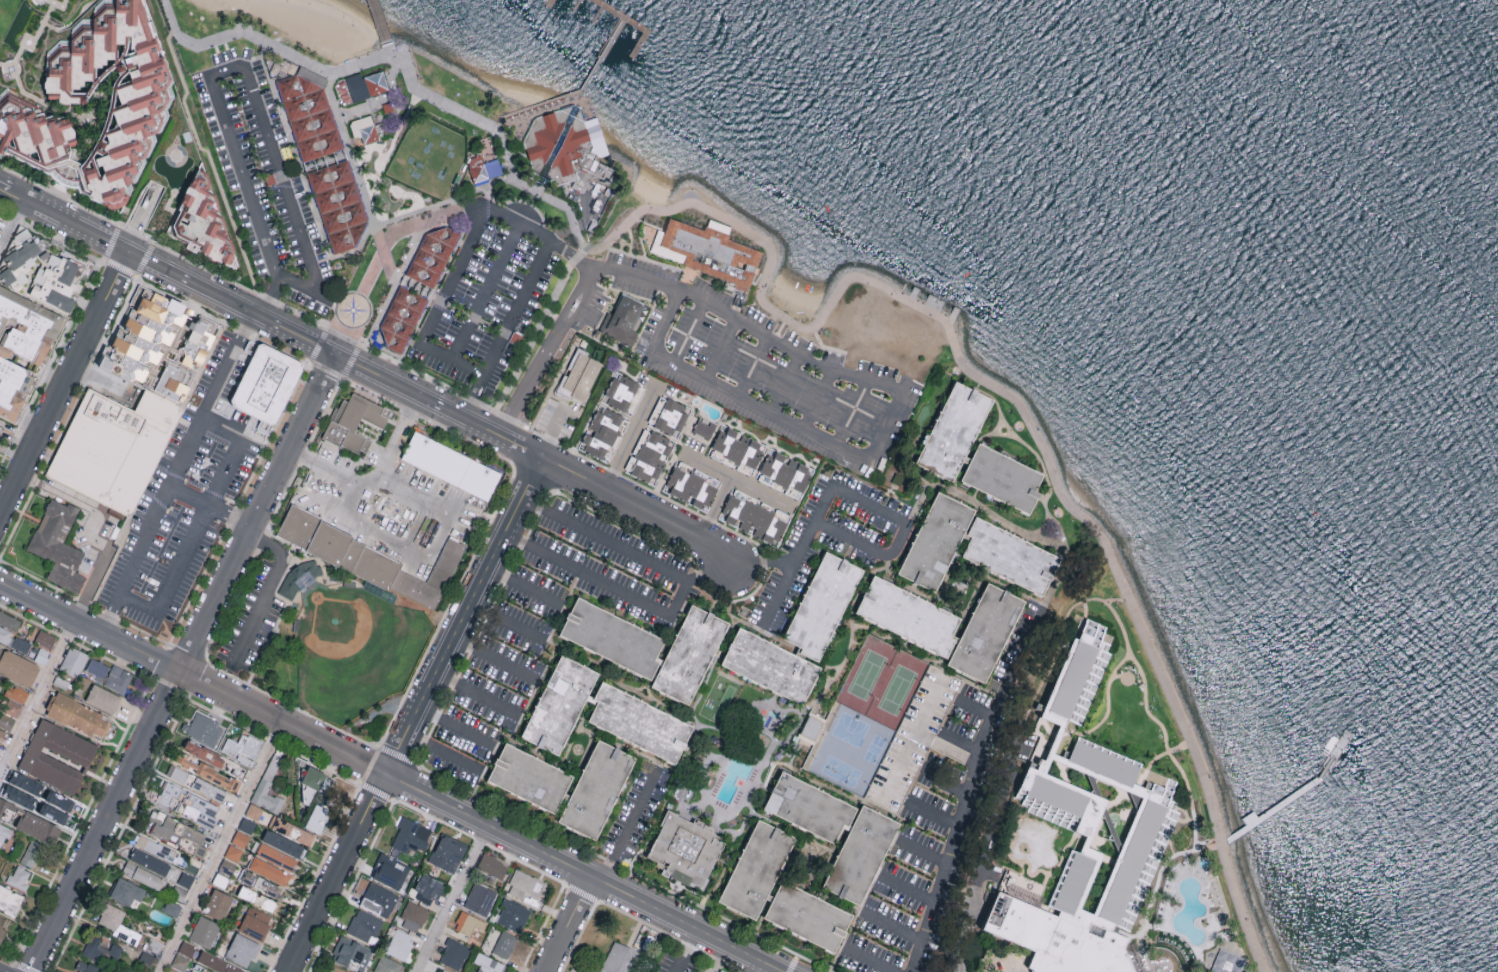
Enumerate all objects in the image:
pier: (575, 5)
pier: (550, 6)
park: (7, 15)
road: (379, 23)
pier: (379, 24)
pier: (638, 28)
park: (219, 31)
road: (265, 43)
road: (388, 51)
road: (239, 68)
road: (589, 77)
building: (366, 84)
road: (431, 99)
building: (138, 107)
road: (534, 109)
building: (308, 114)
building: (365, 128)
building: (565, 148)
building: (325, 159)
building: (430, 159)
building: (488, 170)
road: (533, 193)
road: (523, 202)
building: (339, 206)
road: (369, 207)
road: (142, 224)
building: (203, 224)
road: (12, 227)
building: (705, 252)
building: (432, 257)
road: (387, 258)
building: (19, 259)
road: (378, 259)
building: (55, 279)
road: (277, 280)
road: (662, 284)
parking lot: (489, 296)
road: (517, 306)
building: (401, 319)
building: (622, 320)
road: (269, 324)
road: (427, 328)
road: (374, 331)
road: (688, 333)
building: (143, 336)
road: (534, 340)
building: (197, 344)
building: (22, 345)
road: (720, 349)
road: (752, 365)
road: (468, 368)
building: (580, 375)
road: (63, 382)
road: (785, 382)
building: (266, 384)
building: (621, 392)
road: (818, 399)
road: (1023, 405)
road: (765, 408)
road: (853, 412)
building: (672, 417)
building: (353, 422)
building: (0, 426)
building: (264, 426)
building: (704, 428)
road: (552, 431)
building: (953, 432)
building: (602, 433)
road: (628, 439)
building: (739, 447)
building: (114, 448)
building: (650, 456)
building: (451, 465)
road: (175, 473)
building: (787, 473)
building: (1000, 479)
road: (734, 480)
road: (358, 484)
building: (691, 487)
parking lot: (184, 499)
road: (858, 499)
road: (78, 503)
road: (1, 505)
road: (210, 506)
road: (979, 506)
road: (636, 508)
road: (714, 509)
road: (344, 511)
building: (754, 519)
road: (198, 525)
building: (297, 525)
road: (604, 540)
road: (433, 542)
building: (934, 543)
building: (58, 544)
road: (1068, 555)
building: (1009, 557)
road: (889, 563)
building: (386, 564)
road: (761, 564)
building: (85, 565)
building: (300, 576)
road: (521, 586)
road: (263, 594)
road: (623, 594)
road: (856, 598)
building: (820, 607)
road: (461, 615)
building: (907, 618)
building: (9, 621)
road: (505, 621)
parking lot: (249, 622)
road: (1120, 622)
building: (985, 634)
building: (45, 639)
building: (611, 639)
building: (13, 640)
building: (0, 652)
park: (351, 652)
building: (691, 657)
road: (54, 658)
road: (492, 659)
road: (925, 660)
building: (74, 661)
road: (184, 664)
building: (771, 667)
building: (18, 668)
building: (98, 669)
road: (1119, 674)
park: (865, 675)
road: (190, 677)
building: (118, 679)
building: (1, 681)
park: (896, 690)
building: (16, 693)
road: (476, 693)
building: (103, 698)
building: (558, 706)
building: (12, 708)
road: (976, 708)
building: (77, 715)
building: (6, 721)
building: (638, 723)
road: (453, 727)
building: (811, 727)
building: (205, 729)
park: (844, 730)
building: (2, 735)
building: (913, 737)
road: (959, 741)
building: (242, 748)
road: (441, 750)
building: (204, 753)
building: (58, 756)
park: (849, 761)
road: (1175, 762)
road: (1146, 768)
building: (208, 773)
building: (177, 774)
building: (527, 779)
road: (946, 781)
building: (314, 783)
building: (269, 785)
road: (969, 788)
building: (23, 790)
building: (208, 790)
building: (594, 793)
building: (168, 795)
building: (60, 801)
building: (807, 808)
building: (198, 809)
pier: (1273, 809)
building: (7, 811)
building: (254, 812)
building: (53, 814)
road: (934, 814)
building: (317, 818)
road: (628, 826)
building: (37, 827)
building: (292, 830)
building: (3, 834)
building: (1086, 834)
building: (180, 835)
building: (411, 836)
building: (240, 839)
building: (284, 844)
building: (152, 846)
road: (220, 847)
building: (685, 850)
building: (233, 852)
building: (448, 853)
road: (923, 853)
building: (33, 854)
building: (860, 856)
building: (276, 857)
road: (980, 858)
building: (0, 860)
building: (149, 862)
building: (227, 866)
building: (492, 868)
building: (270, 871)
building: (754, 871)
road: (333, 872)
building: (390, 872)
road: (579, 872)
building: (143, 875)
building: (19, 877)
building: (186, 879)
building: (220, 880)
building: (263, 885)
building: (524, 886)
building: (427, 889)
road: (907, 889)
building: (127, 892)
building: (257, 898)
road: (450, 898)
building: (10, 899)
building: (379, 899)
building: (479, 901)
building: (218, 904)
building: (172, 908)
road: (1216, 912)
road: (1167, 914)
building: (414, 916)
building: (513, 917)
building: (807, 918)
building: (117, 923)
building: (255, 923)
building: (364, 925)
building: (467, 925)
road: (568, 925)
building: (2, 926)
road: (892, 928)
building: (204, 931)
building: (400, 943)
building: (504, 946)
building: (187, 948)
building: (242, 950)
building: (102, 951)
road: (684, 951)
building: (352, 954)
building: (454, 955)
road: (1145, 955)
building: (621, 960)
road: (870, 960)
building: (180, 962)
building: (1227, 962)
building: (217, 963)
building: (487, 964)
building: (388, 965)
building: (86, 967)
building: (335, 969)
building: (172, 970)
building: (442, 971)

